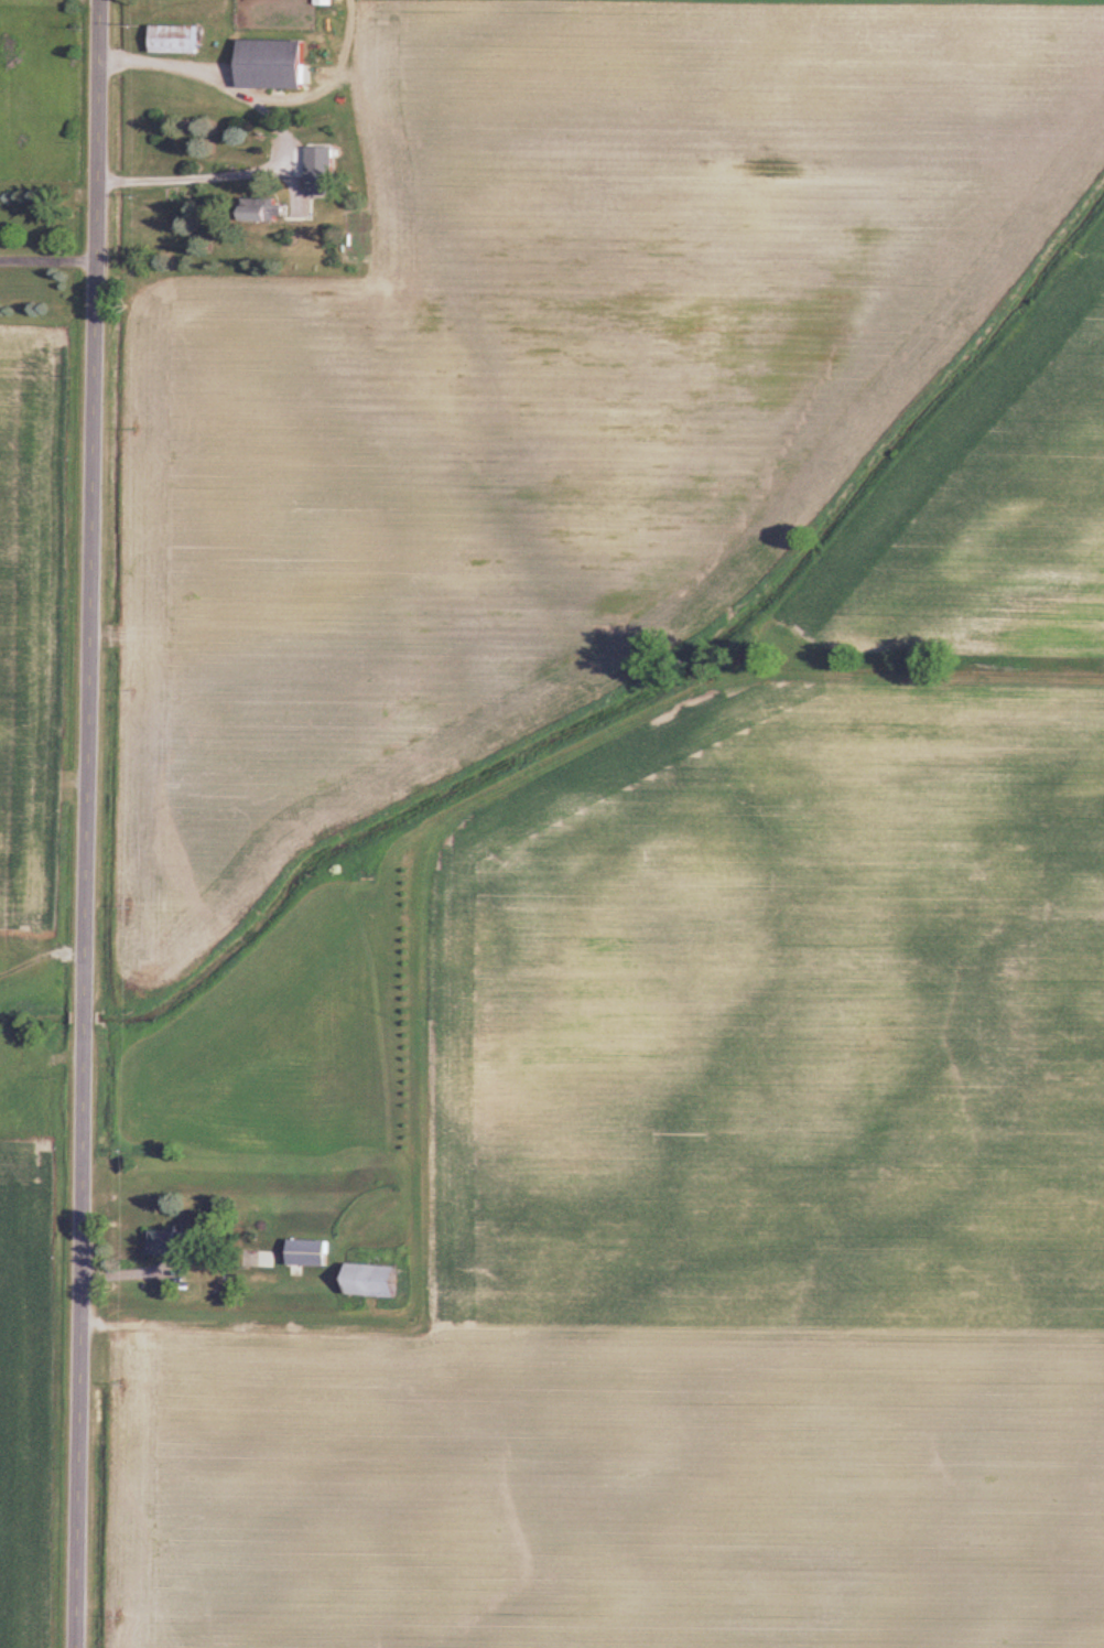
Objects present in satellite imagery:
building: (324, 3)
building: (175, 41)
building: (272, 66)
road: (283, 138)
building: (263, 212)
road: (45, 259)
road: (90, 823)
building: (164, 1246)
building: (309, 1256)
building: (372, 1284)

